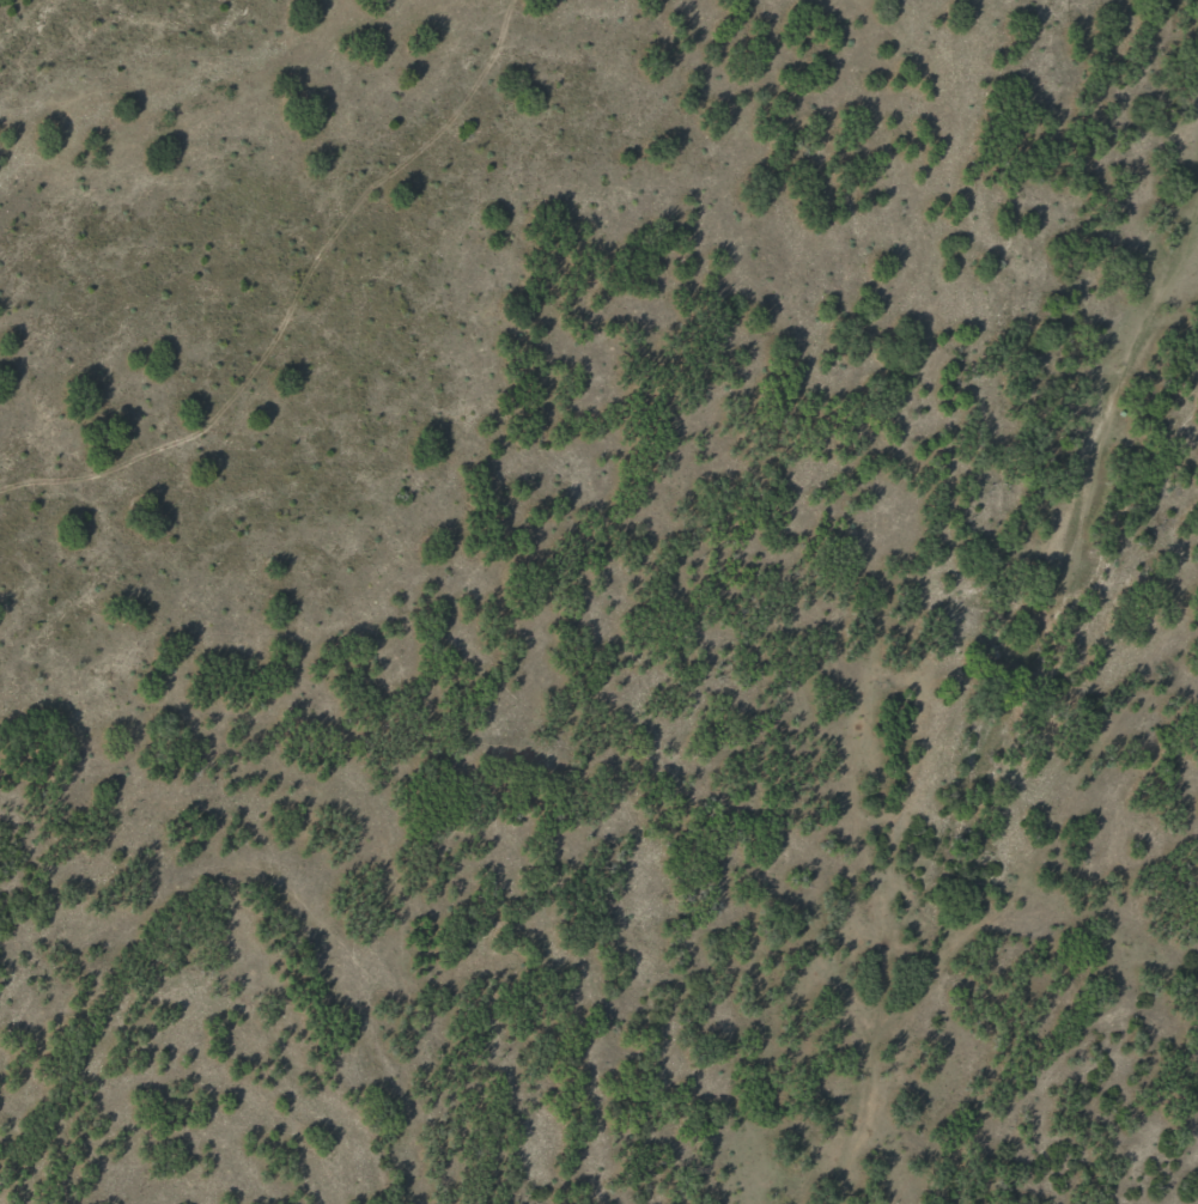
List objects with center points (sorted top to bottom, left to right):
road: (1059, 947)

